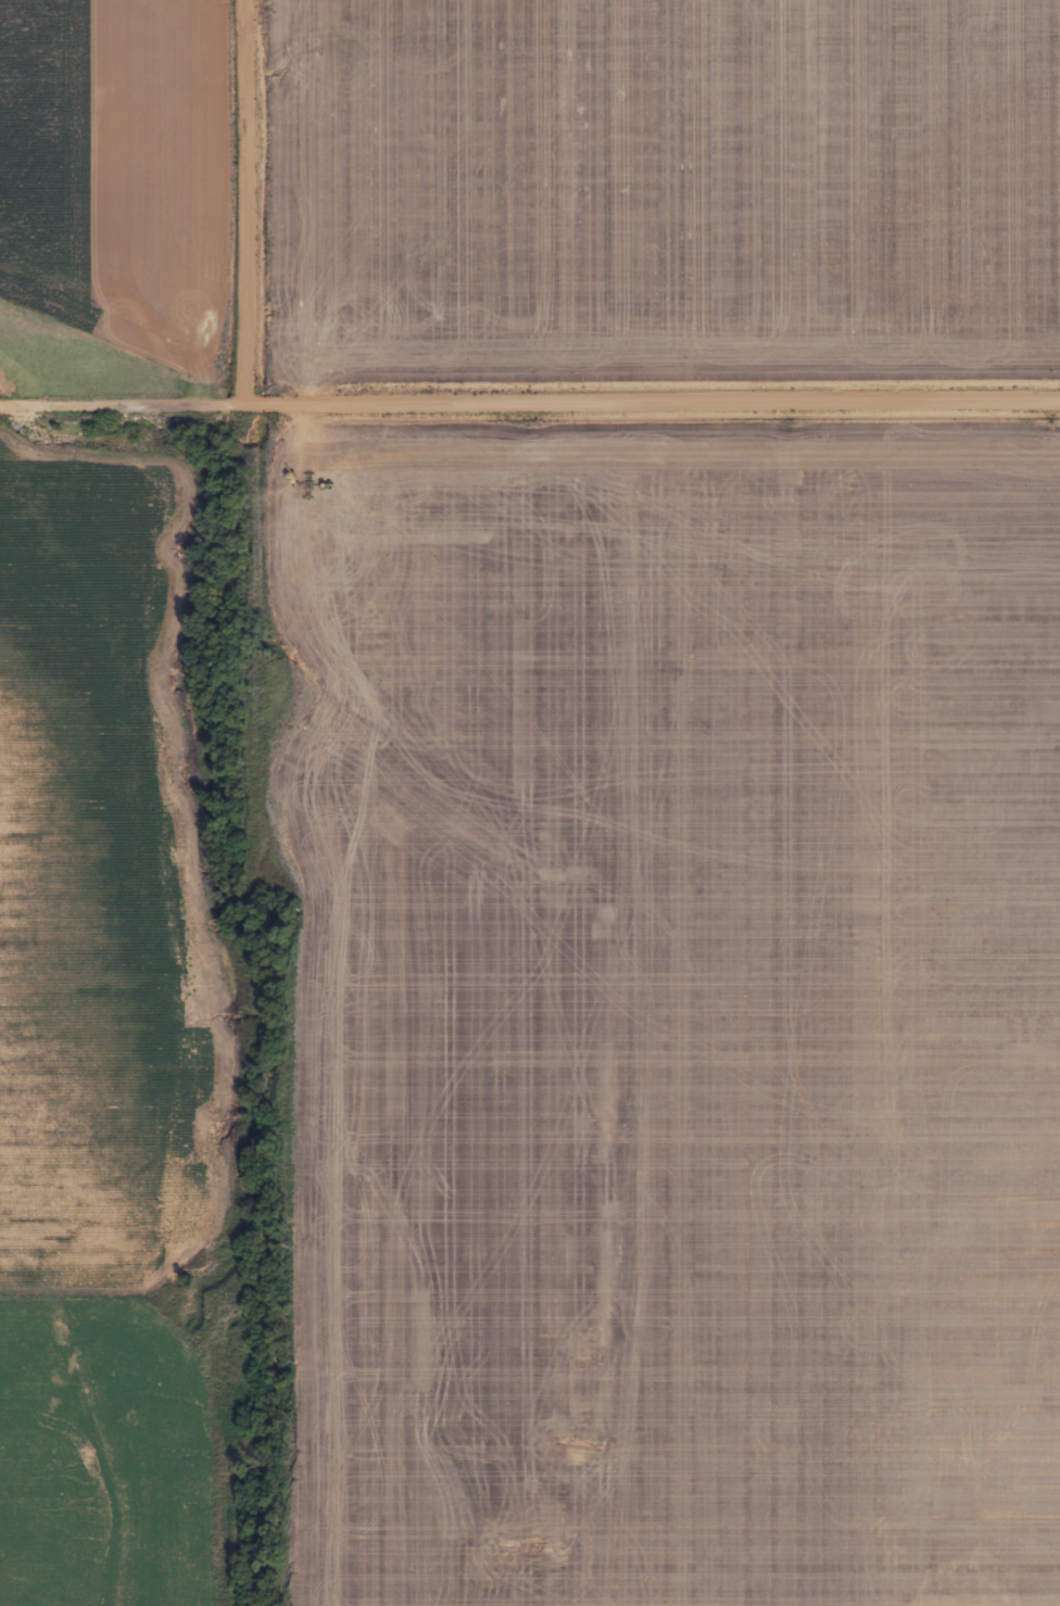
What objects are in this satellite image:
road: (253, 251)
road: (530, 403)

